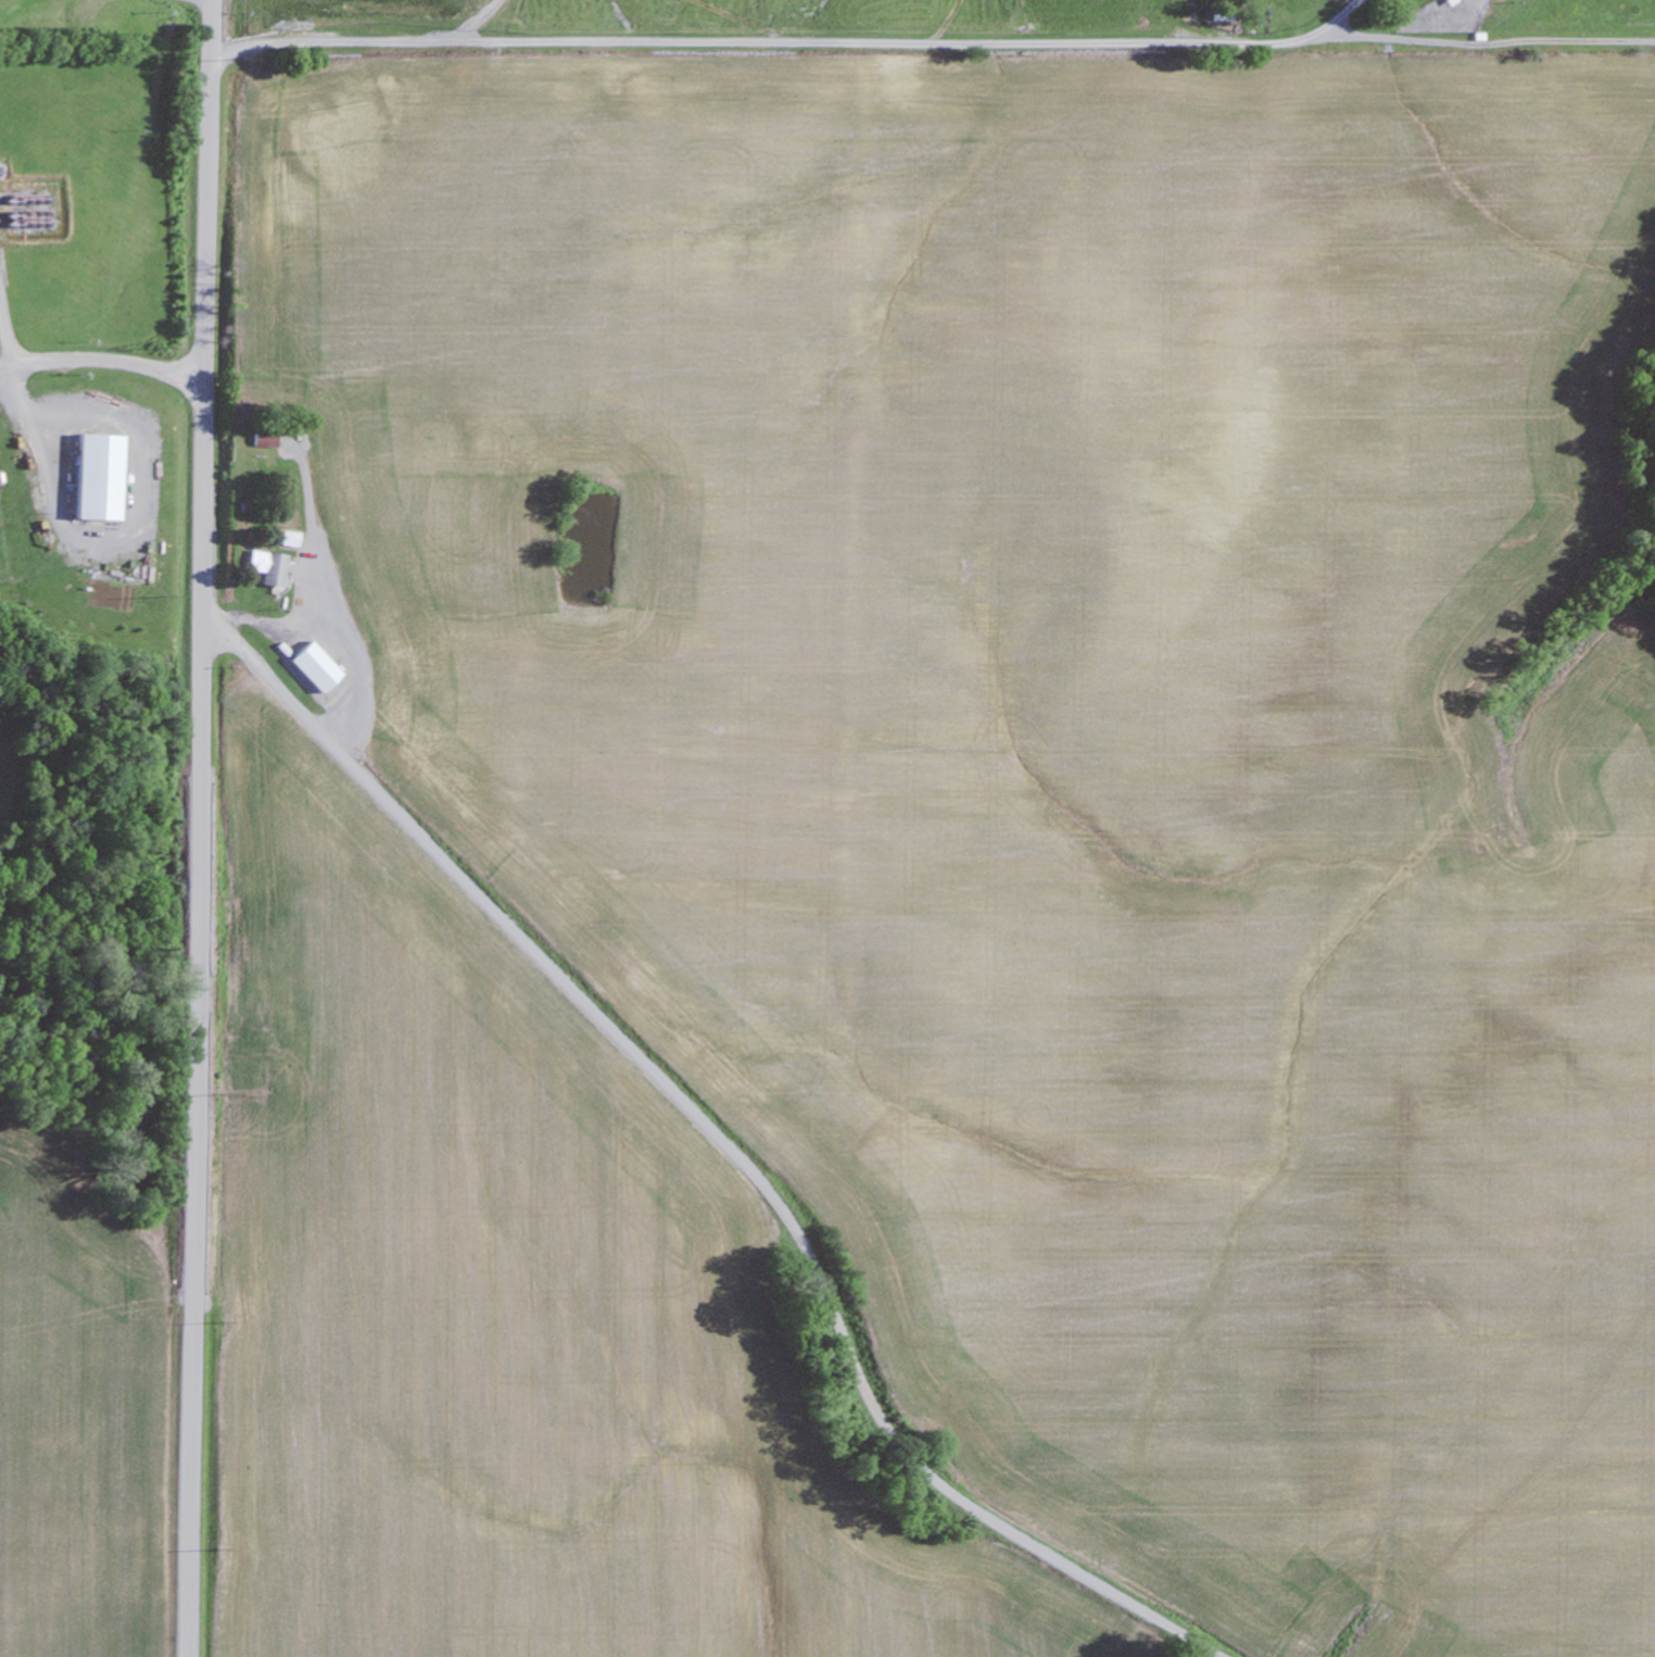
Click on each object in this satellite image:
road: (104, 360)
building: (266, 441)
building: (104, 477)
building: (270, 567)
building: (292, 656)
road: (202, 828)
road: (720, 1138)

